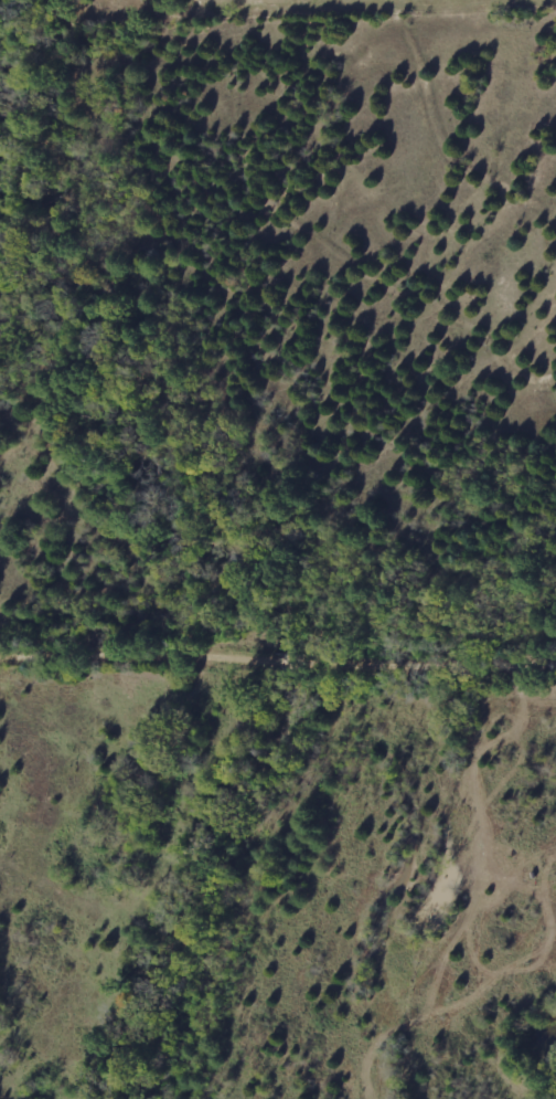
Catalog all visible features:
road: (278, 672)

